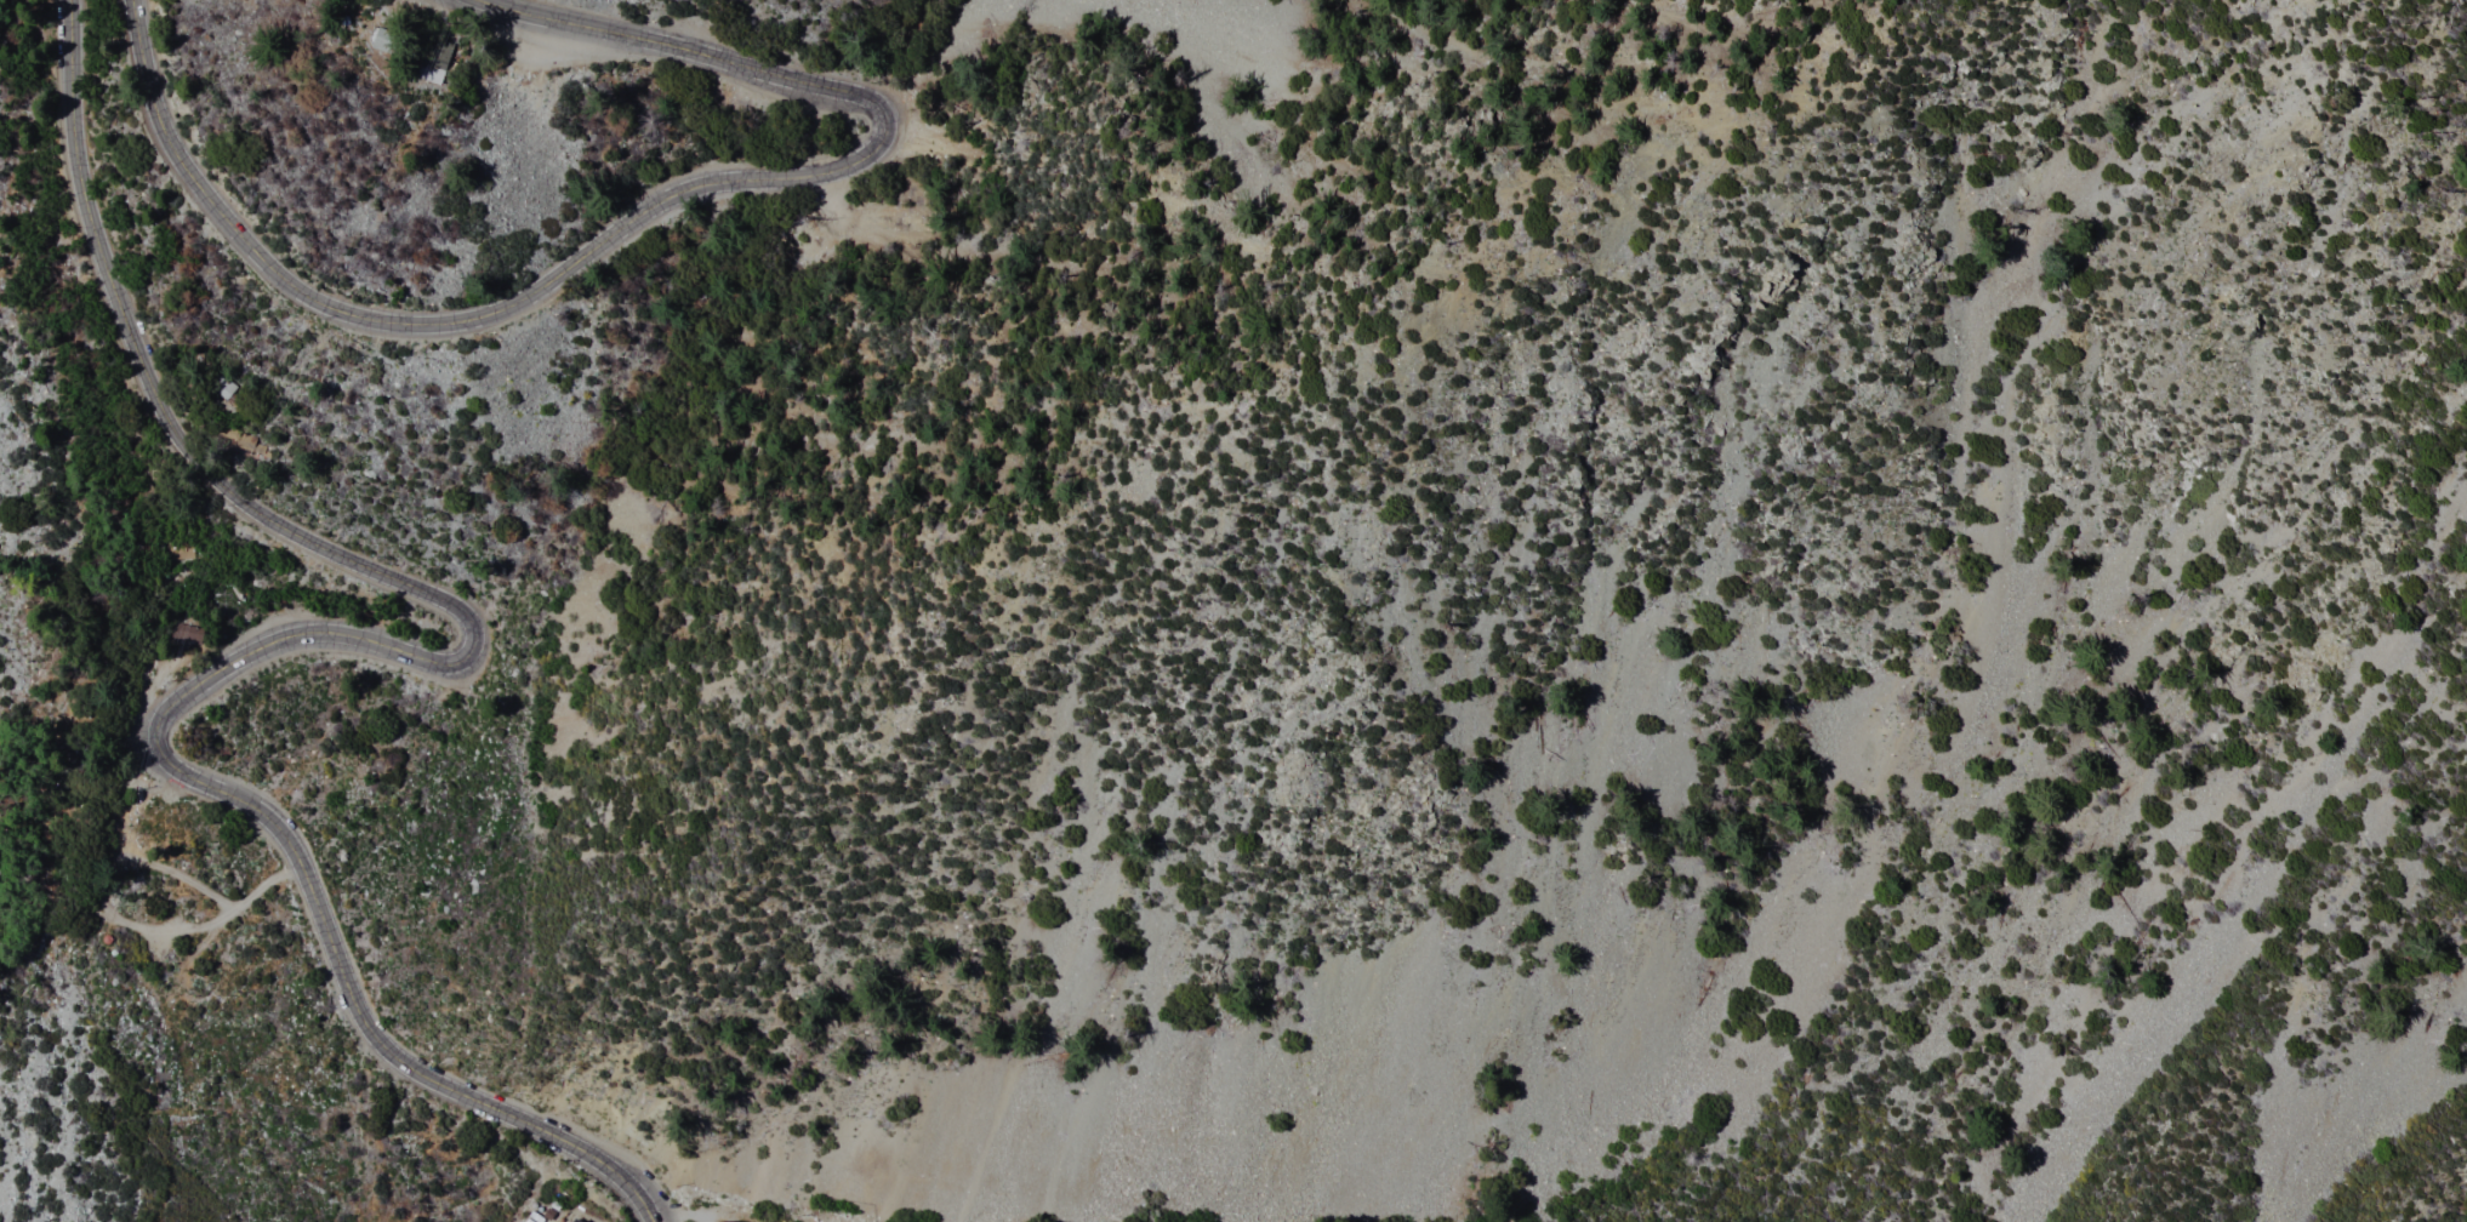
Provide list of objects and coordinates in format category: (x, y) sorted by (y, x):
road: (497, 46)
building: (433, 63)
road: (629, 219)
building: (228, 387)
building: (241, 447)
road: (349, 639)
road: (113, 918)
road: (711, 1218)
building: (576, 1220)
building: (571, 1221)

